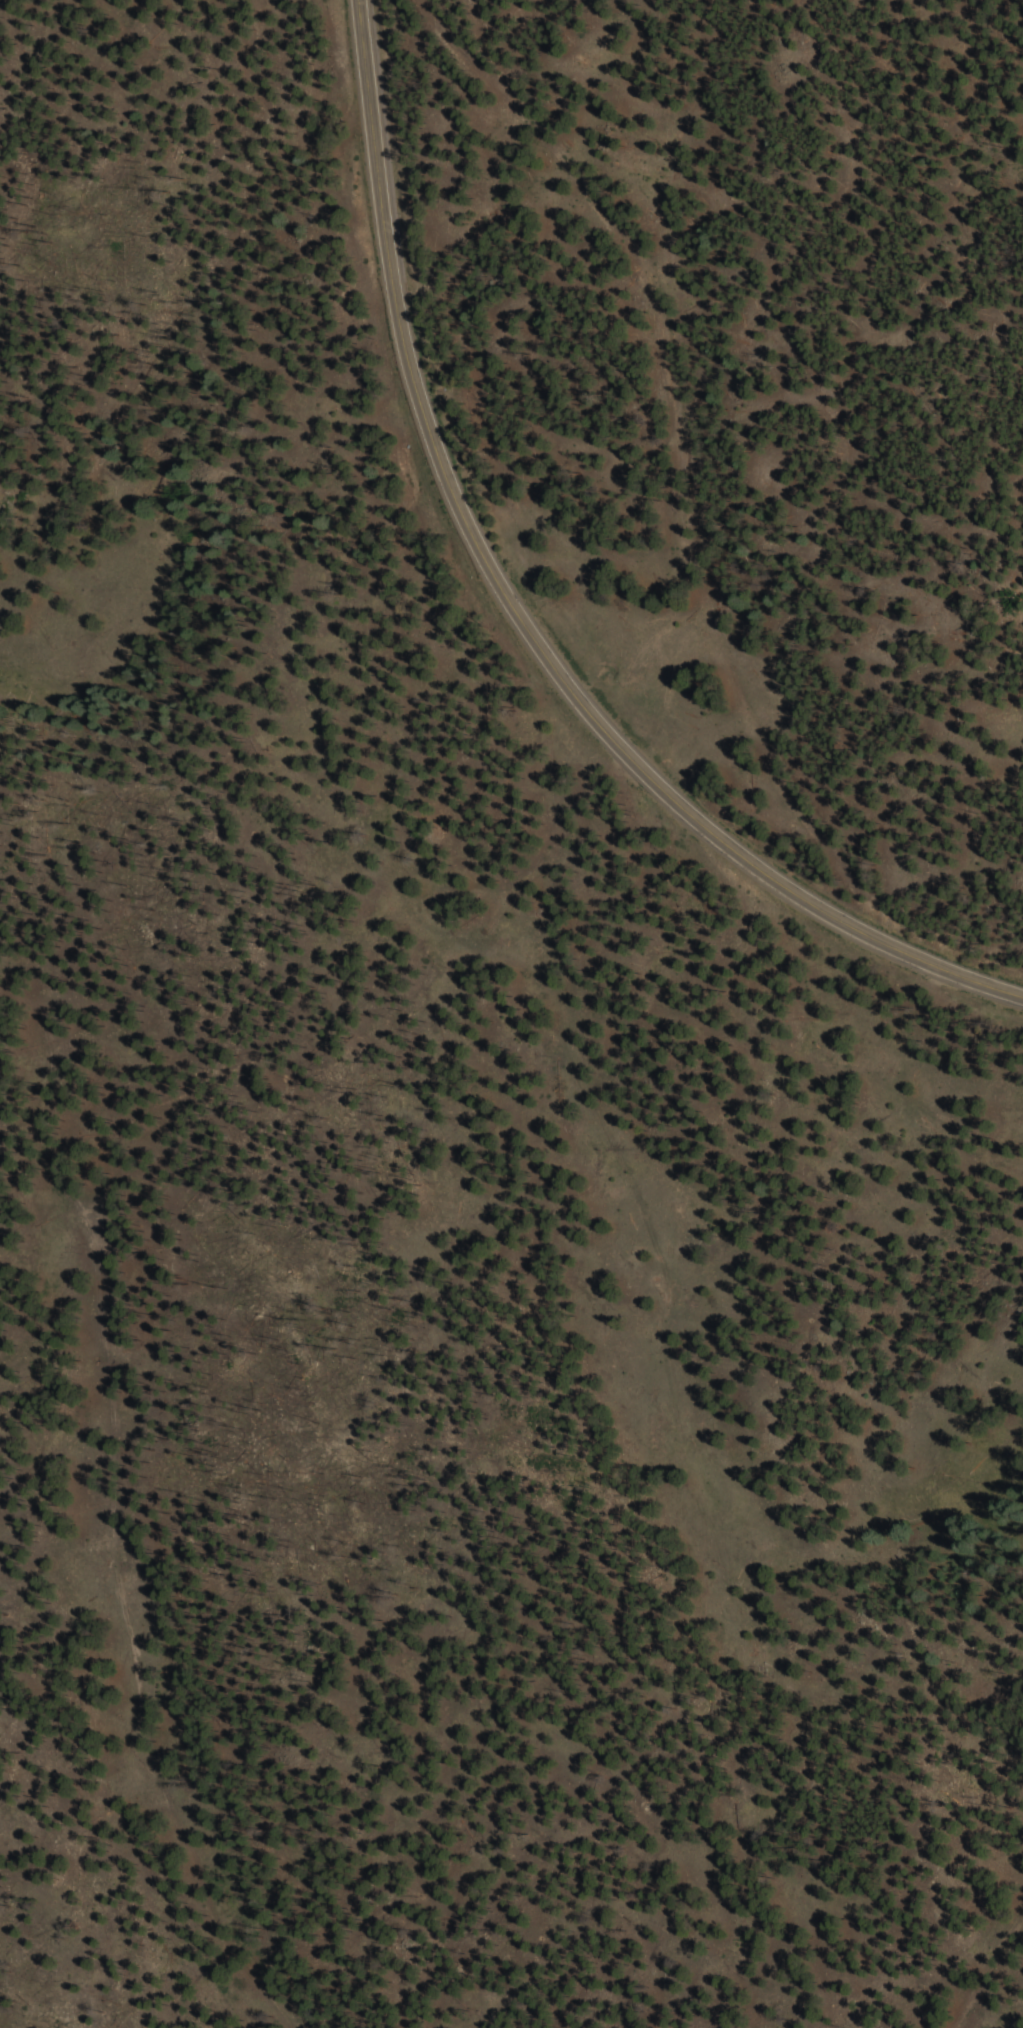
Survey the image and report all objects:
road: (518, 617)

